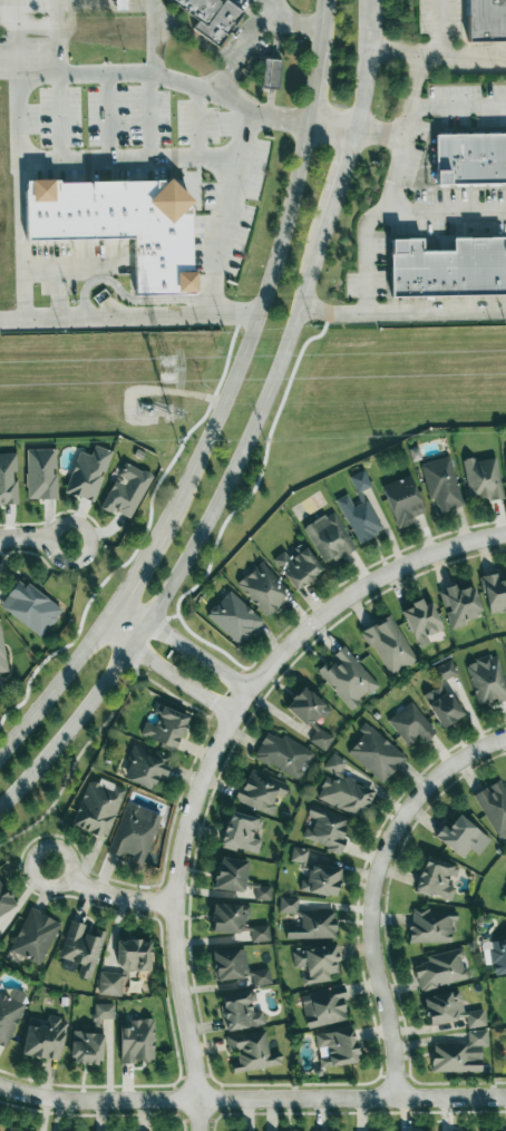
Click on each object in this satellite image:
building: (119, 4)
road: (16, 11)
road: (60, 14)
building: (211, 17)
building: (486, 20)
road: (153, 22)
road: (286, 22)
road: (30, 25)
road: (405, 55)
road: (445, 58)
road: (150, 65)
road: (366, 66)
road: (50, 74)
building: (270, 74)
road: (153, 85)
road: (458, 104)
road: (278, 117)
road: (406, 123)
road: (331, 128)
building: (471, 160)
road: (123, 169)
parking lot: (441, 175)
road: (338, 182)
road: (447, 211)
road: (222, 212)
building: (120, 224)
road: (366, 253)
building: (449, 270)
road: (269, 276)
road: (437, 312)
road: (19, 315)
power tower: (168, 372)
power tower: (173, 413)
building: (505, 452)
building: (41, 474)
building: (87, 474)
building: (481, 478)
building: (8, 479)
building: (359, 481)
building: (441, 484)
building: (126, 491)
building: (402, 500)
building: (359, 518)
road: (196, 536)
building: (328, 537)
road: (35, 540)
building: (296, 567)
road: (137, 568)
building: (263, 589)
building: (494, 594)
building: (459, 605)
building: (30, 607)
building: (234, 618)
building: (421, 622)
building: (388, 645)
road: (183, 647)
building: (1, 657)
road: (59, 673)
road: (162, 674)
building: (347, 677)
building: (487, 680)
building: (442, 695)
building: (310, 715)
building: (410, 724)
building: (165, 728)
building: (283, 754)
building: (374, 754)
road: (213, 755)
building: (145, 767)
building: (343, 790)
building: (260, 791)
building: (98, 808)
building: (494, 808)
building: (325, 829)
building: (241, 832)
building: (134, 833)
building: (463, 837)
road: (33, 858)
building: (230, 875)
building: (436, 879)
building: (321, 880)
road: (373, 885)
building: (262, 893)
road: (125, 897)
building: (4, 900)
building: (288, 905)
building: (236, 922)
building: (313, 926)
building: (430, 926)
building: (33, 936)
building: (81, 947)
building: (135, 955)
building: (497, 955)
building: (315, 963)
building: (237, 967)
building: (440, 969)
building: (109, 984)
building: (323, 1006)
building: (450, 1011)
building: (104, 1012)
building: (240, 1012)
building: (9, 1013)
building: (43, 1039)
building: (137, 1042)
building: (86, 1047)
building: (337, 1047)
building: (251, 1052)
building: (459, 1054)
road: (252, 1101)
building: (11, 1130)

